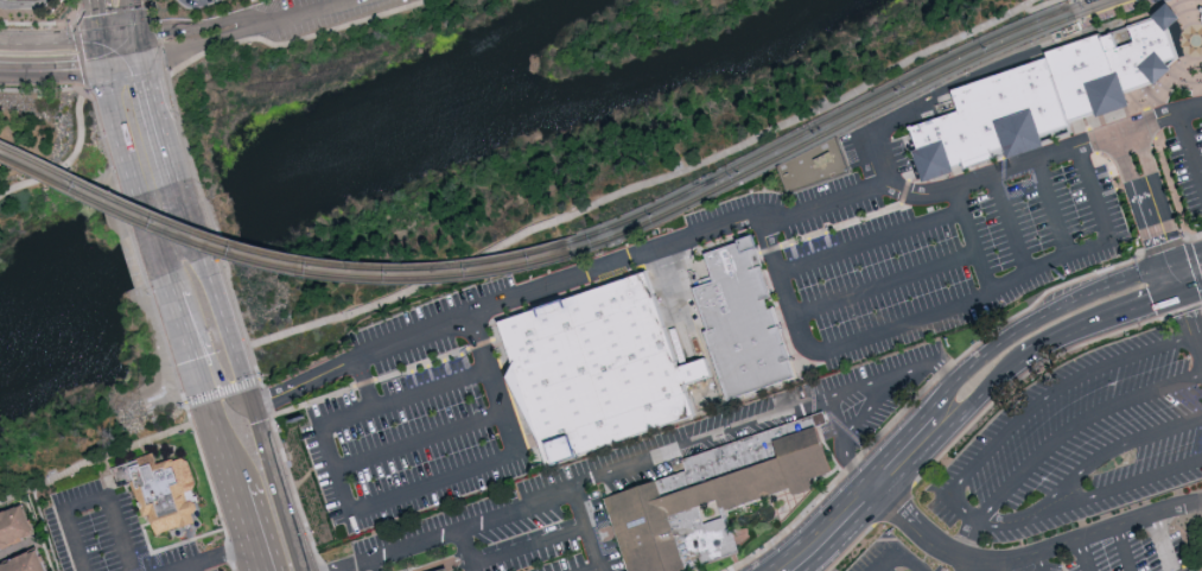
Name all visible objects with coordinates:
parking lot: (272, 0)
building: (209, 1)
road: (25, 4)
road: (1042, 7)
road: (303, 11)
parking lot: (318, 13)
road: (1080, 13)
road: (1127, 13)
road: (135, 17)
road: (95, 20)
railway: (1095, 20)
road: (204, 25)
traffic signals: (141, 34)
road: (287, 34)
road: (205, 40)
road: (70, 42)
traffic signals: (100, 42)
road: (142, 46)
road: (102, 53)
road: (1195, 55)
traffic signals: (145, 59)
road: (125, 62)
traffic signals: (106, 65)
road: (52, 69)
road: (126, 87)
building: (1045, 96)
river: (458, 108)
road: (1162, 118)
railway: (826, 120)
road: (161, 122)
railway: (841, 123)
road: (120, 131)
road: (768, 135)
railway: (0, 144)
parking lot: (1188, 147)
road: (1190, 147)
road: (65, 159)
road: (878, 160)
road: (186, 199)
road: (1052, 210)
road: (1151, 216)
road: (1010, 226)
road: (685, 239)
parking lot: (918, 241)
road: (969, 242)
road: (155, 243)
road: (871, 243)
road: (201, 246)
railway: (273, 255)
road: (1184, 261)
railway: (274, 266)
traffic signals: (1169, 268)
road: (457, 271)
road: (884, 285)
river: (110, 286)
road: (1190, 294)
traffic signals: (1178, 299)
road: (942, 311)
road: (1034, 317)
building: (740, 321)
road: (1100, 325)
road: (1190, 329)
road: (210, 355)
building: (594, 368)
road: (199, 369)
road: (364, 385)
road: (864, 386)
road: (217, 392)
road: (986, 395)
road: (876, 402)
road: (1041, 404)
parking lot: (418, 412)
road: (841, 420)
road: (257, 424)
road: (1079, 427)
road: (704, 439)
road: (416, 440)
road: (1121, 446)
road: (908, 453)
road: (230, 469)
parking lot: (1070, 472)
building: (163, 488)
building: (717, 496)
road: (1093, 497)
road: (93, 502)
road: (373, 506)
road: (498, 520)
road: (248, 529)
road: (831, 529)
road: (971, 538)
road: (1160, 541)
building: (21, 543)
road: (530, 546)
road: (1125, 547)
road: (468, 552)
road: (904, 553)
road: (1029, 553)
road: (1086, 553)
road: (216, 558)
road: (1037, 562)
road: (966, 564)
road: (1001, 565)
road: (191, 569)
road: (882, 569)
road: (885, 569)
building: (443, 570)
building: (451, 570)
road: (786, 570)

